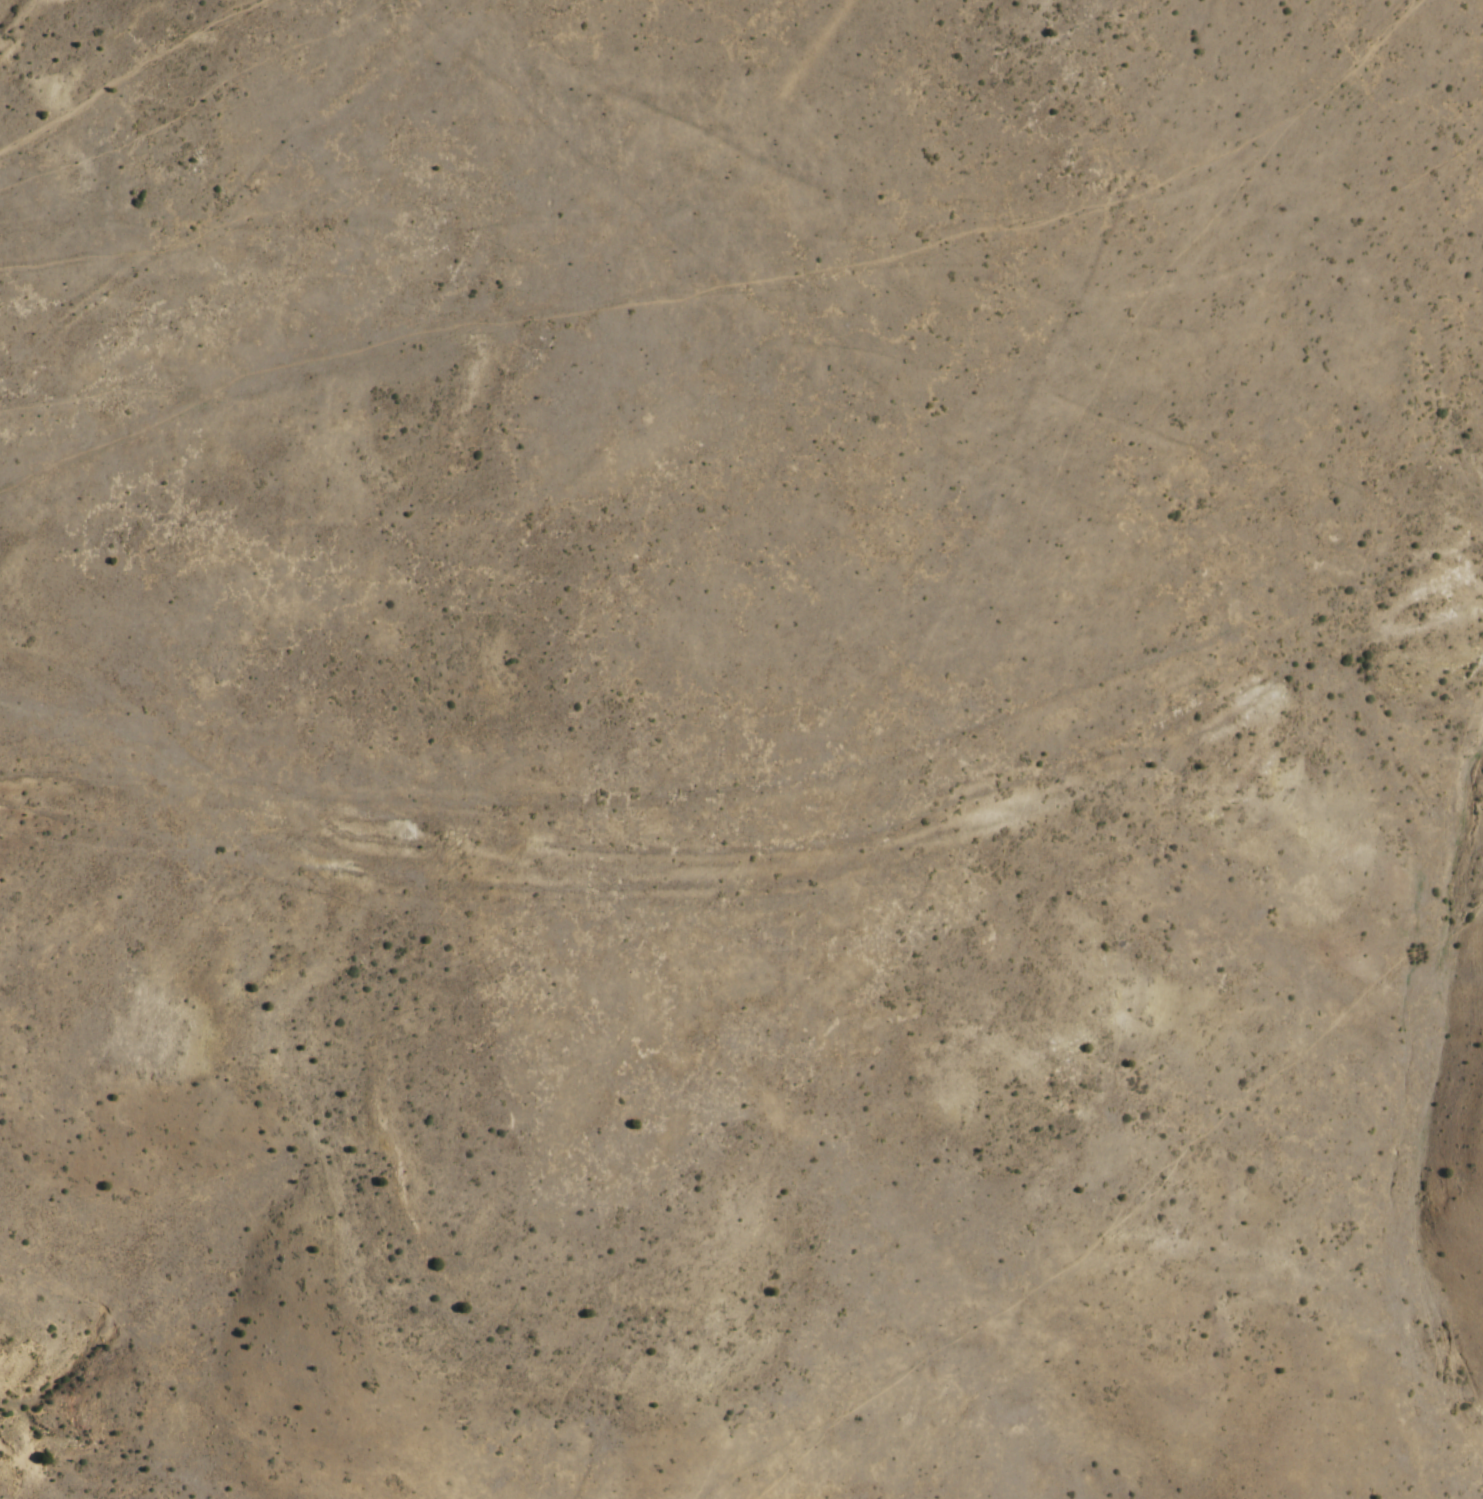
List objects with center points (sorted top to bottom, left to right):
road: (14, 6)
road: (764, 920)

